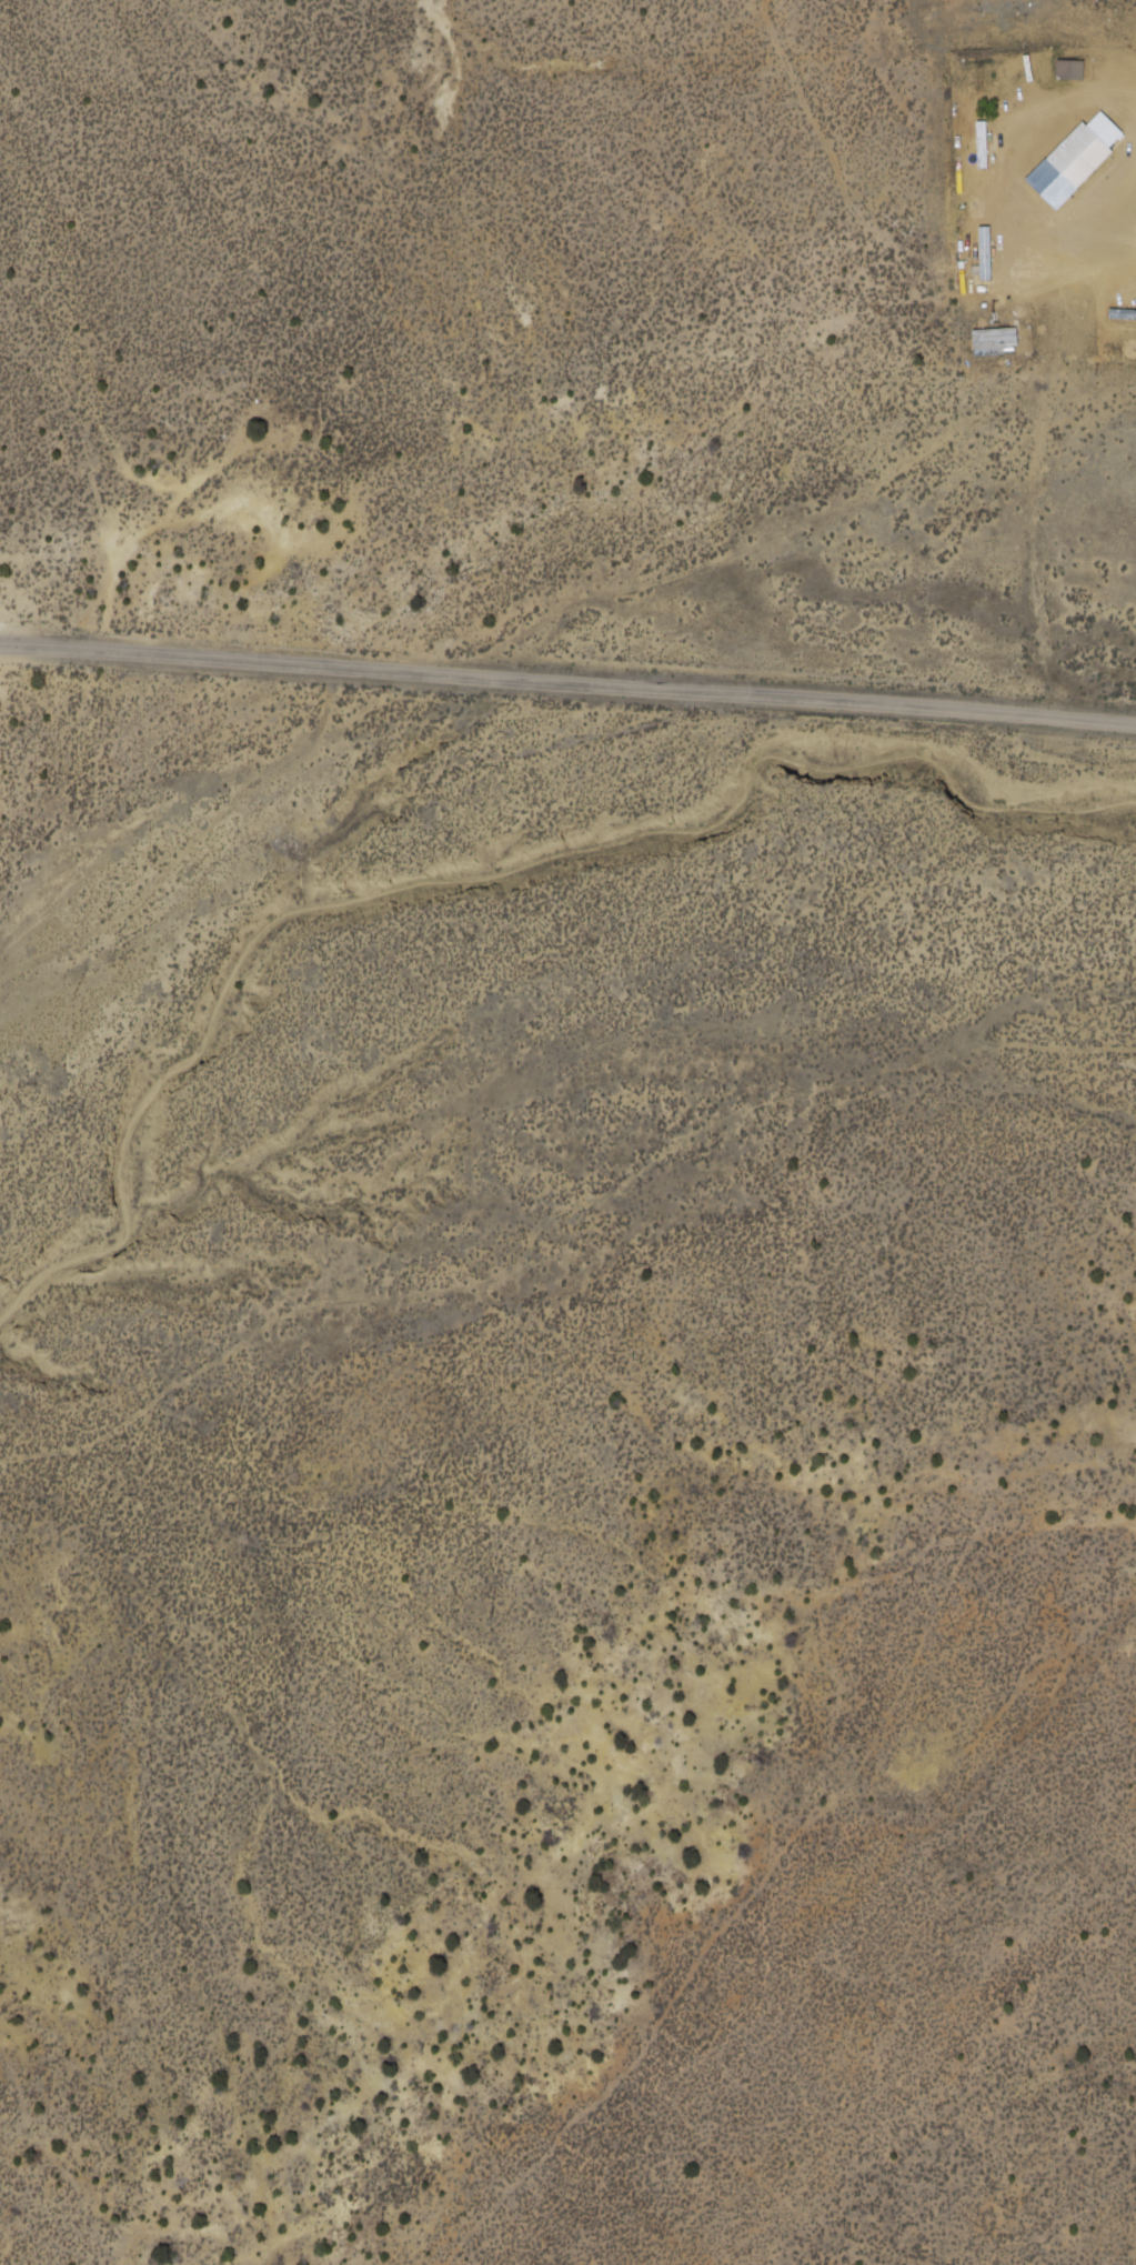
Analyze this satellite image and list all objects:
road: (1123, 66)
building: (1070, 69)
building: (1086, 149)
building: (993, 340)
road: (567, 680)

